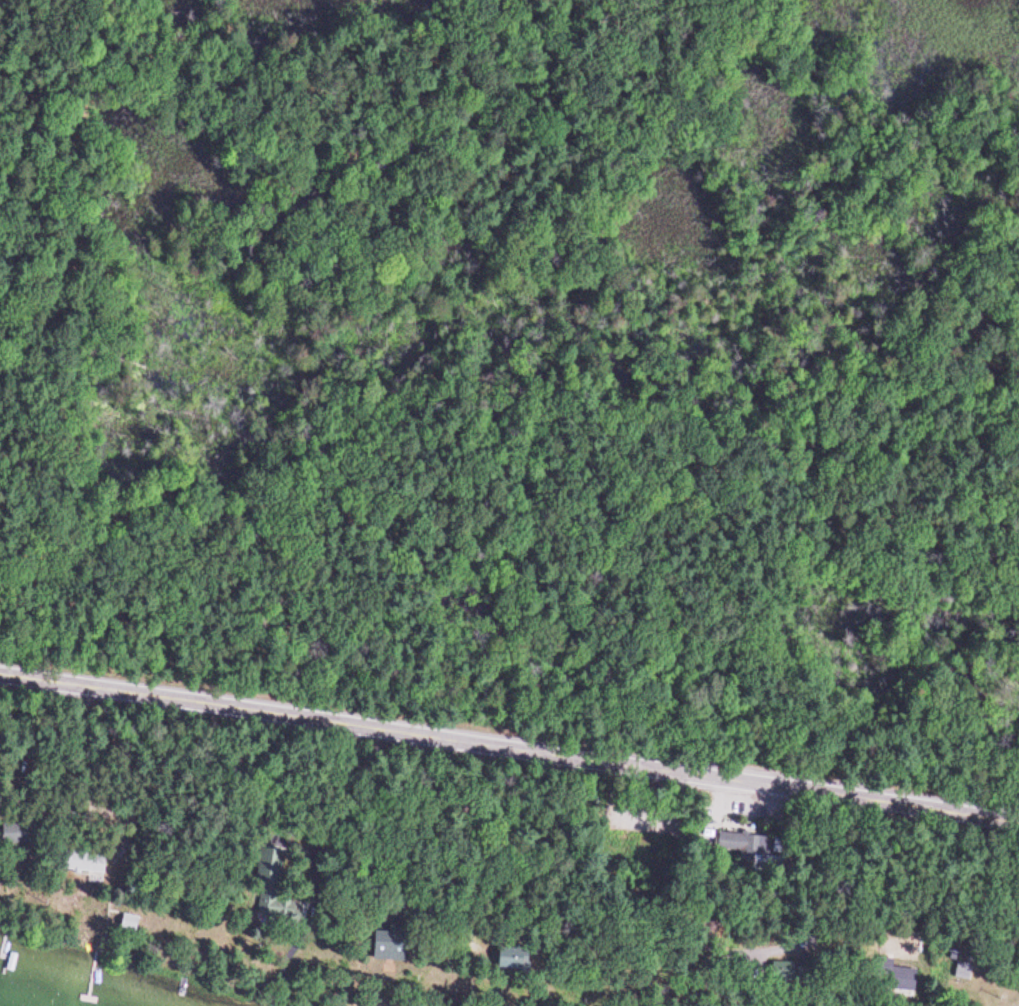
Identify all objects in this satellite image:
road: (509, 750)
building: (15, 835)
building: (83, 864)
building: (388, 946)
building: (511, 960)
building: (961, 972)
building: (781, 976)
building: (897, 980)

